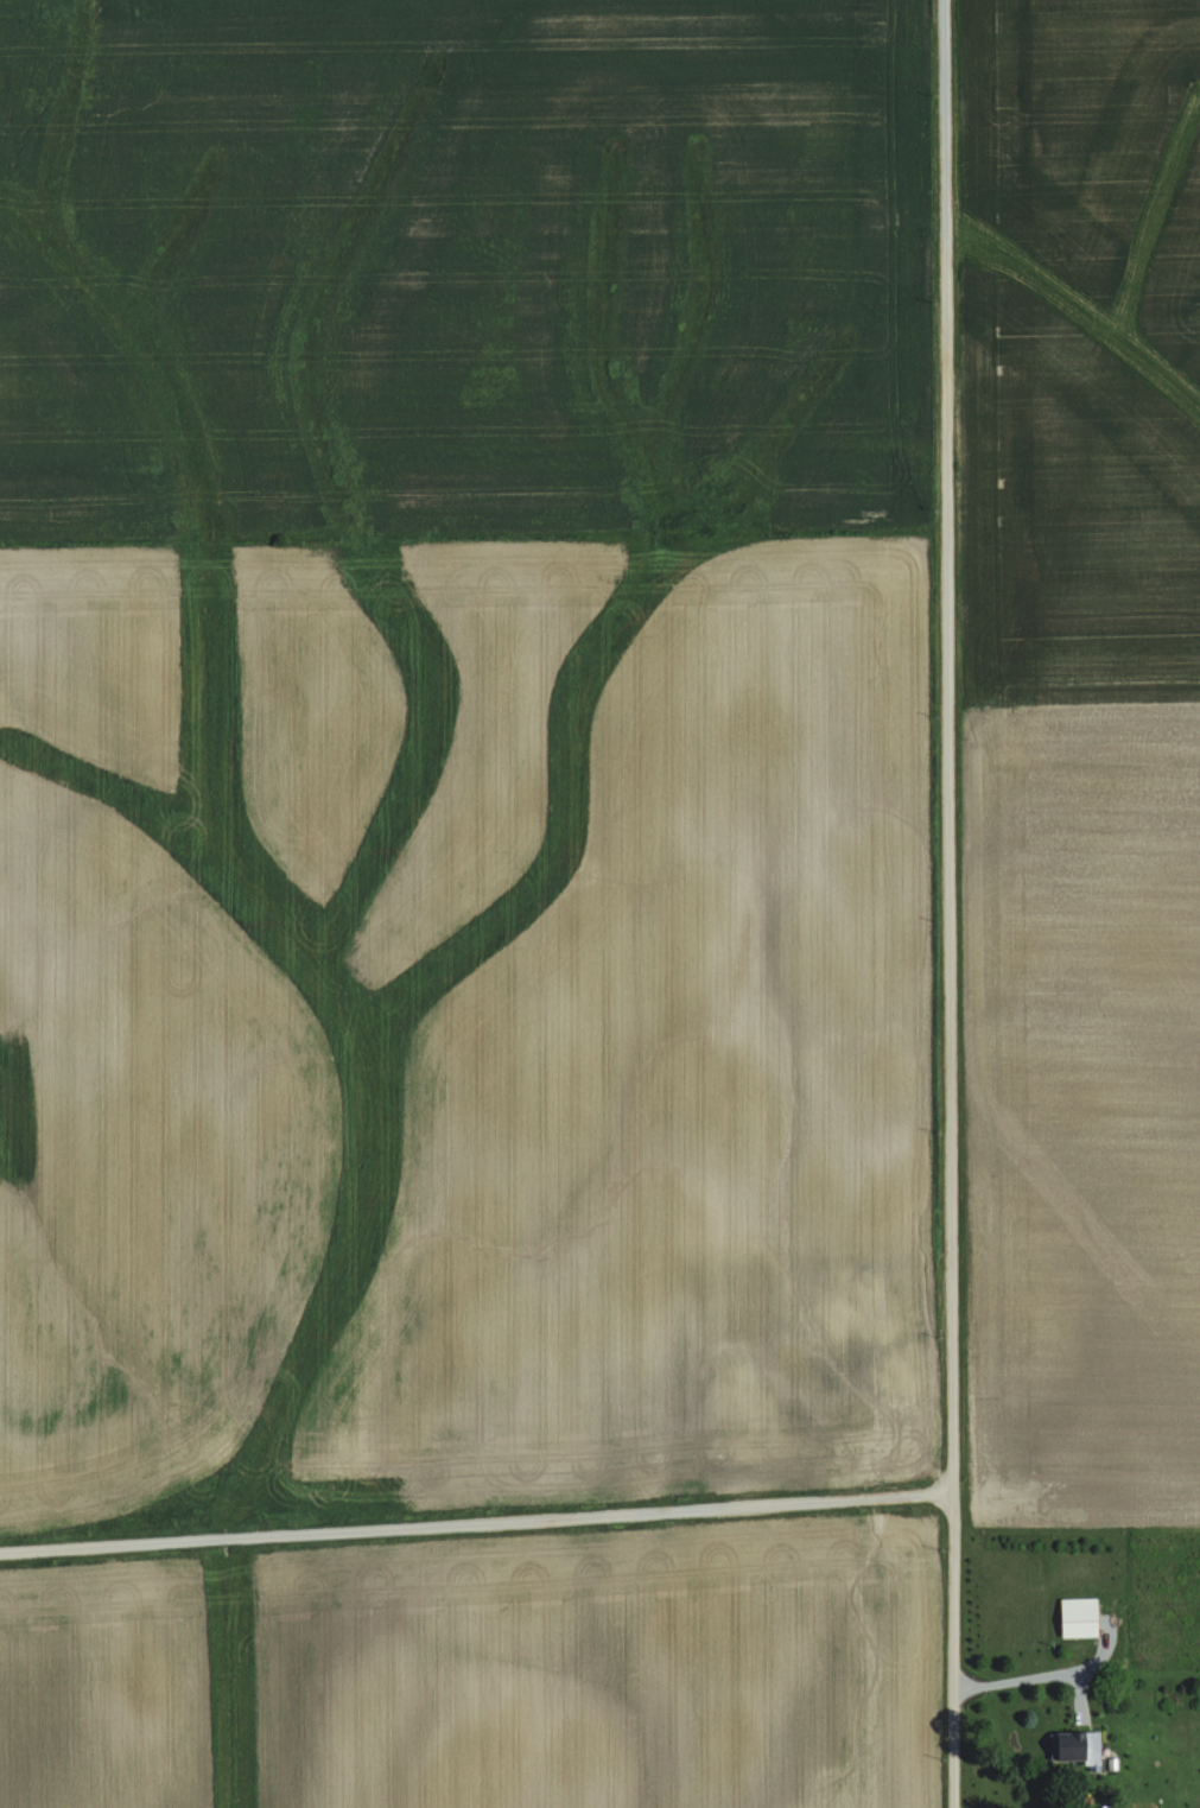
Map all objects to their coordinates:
road: (957, 746)
road: (478, 1522)
building: (1080, 1618)
road: (959, 1649)

